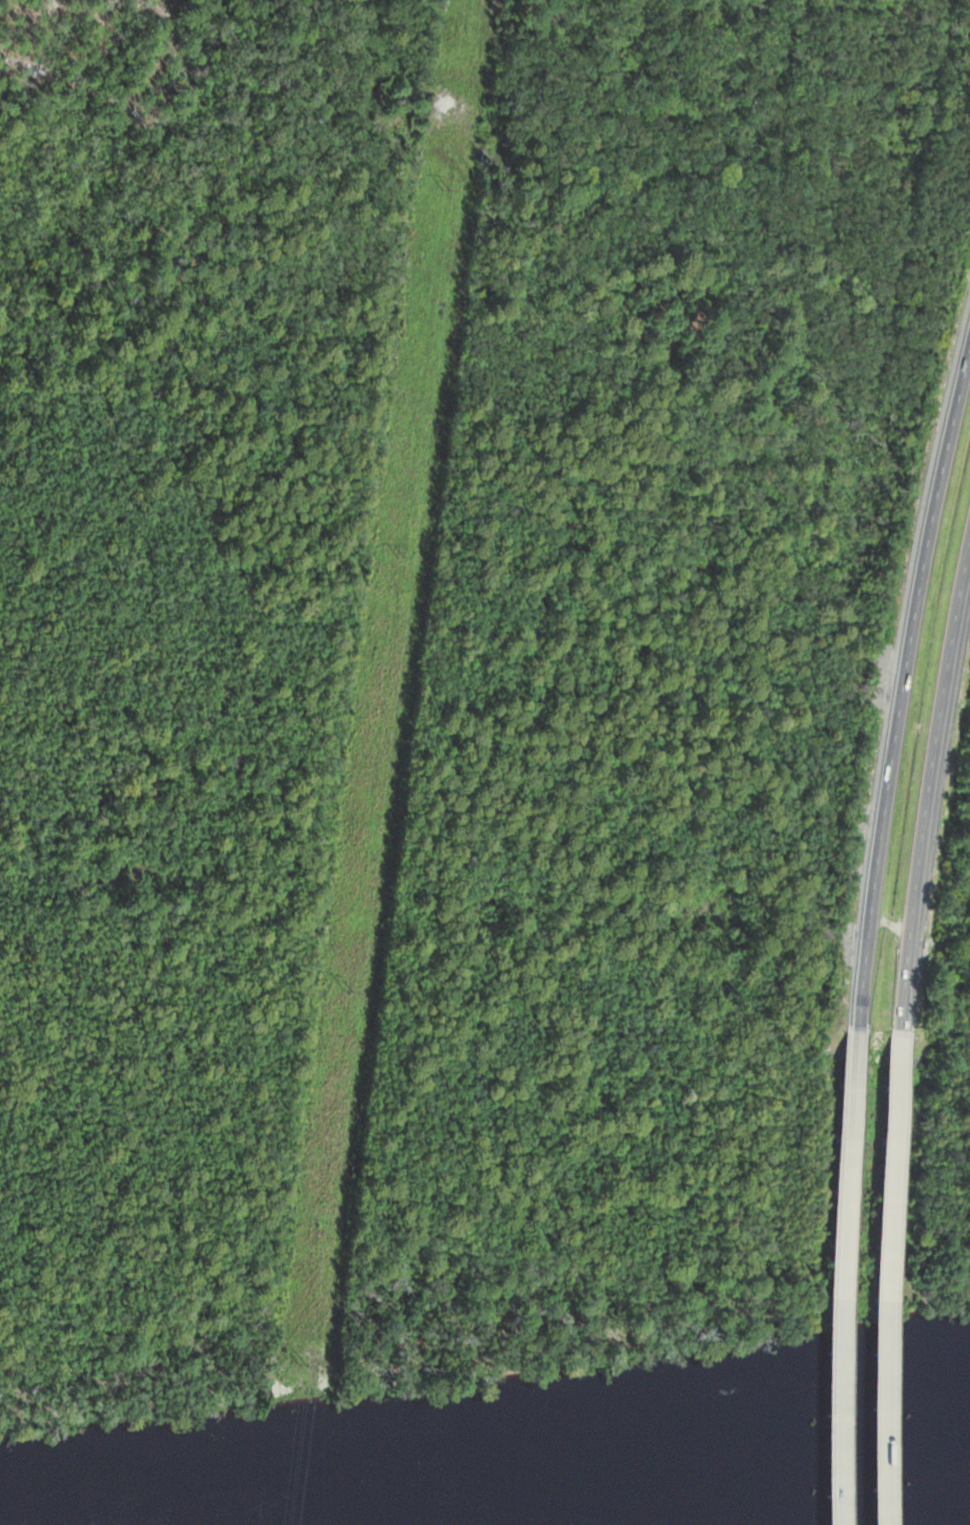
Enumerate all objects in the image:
power tower: (447, 189)
power tower: (395, 613)
road: (904, 680)
road: (929, 778)
power tower: (349, 994)
road: (885, 1268)
road: (837, 1274)
power tower: (313, 1353)
river: (638, 1478)

